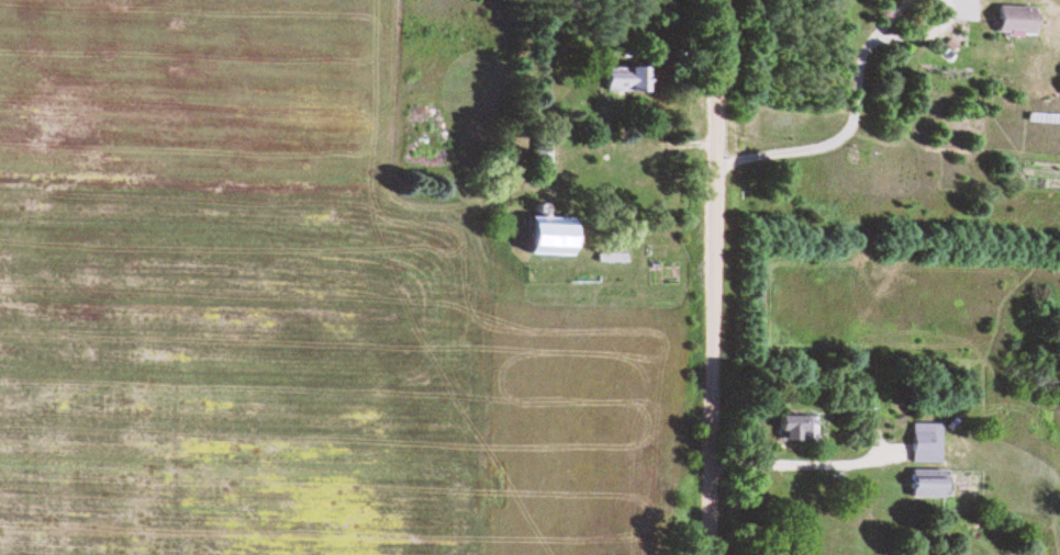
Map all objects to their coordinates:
building: (625, 81)
building: (557, 239)
road: (713, 276)
building: (795, 433)
building: (927, 448)
building: (930, 488)

